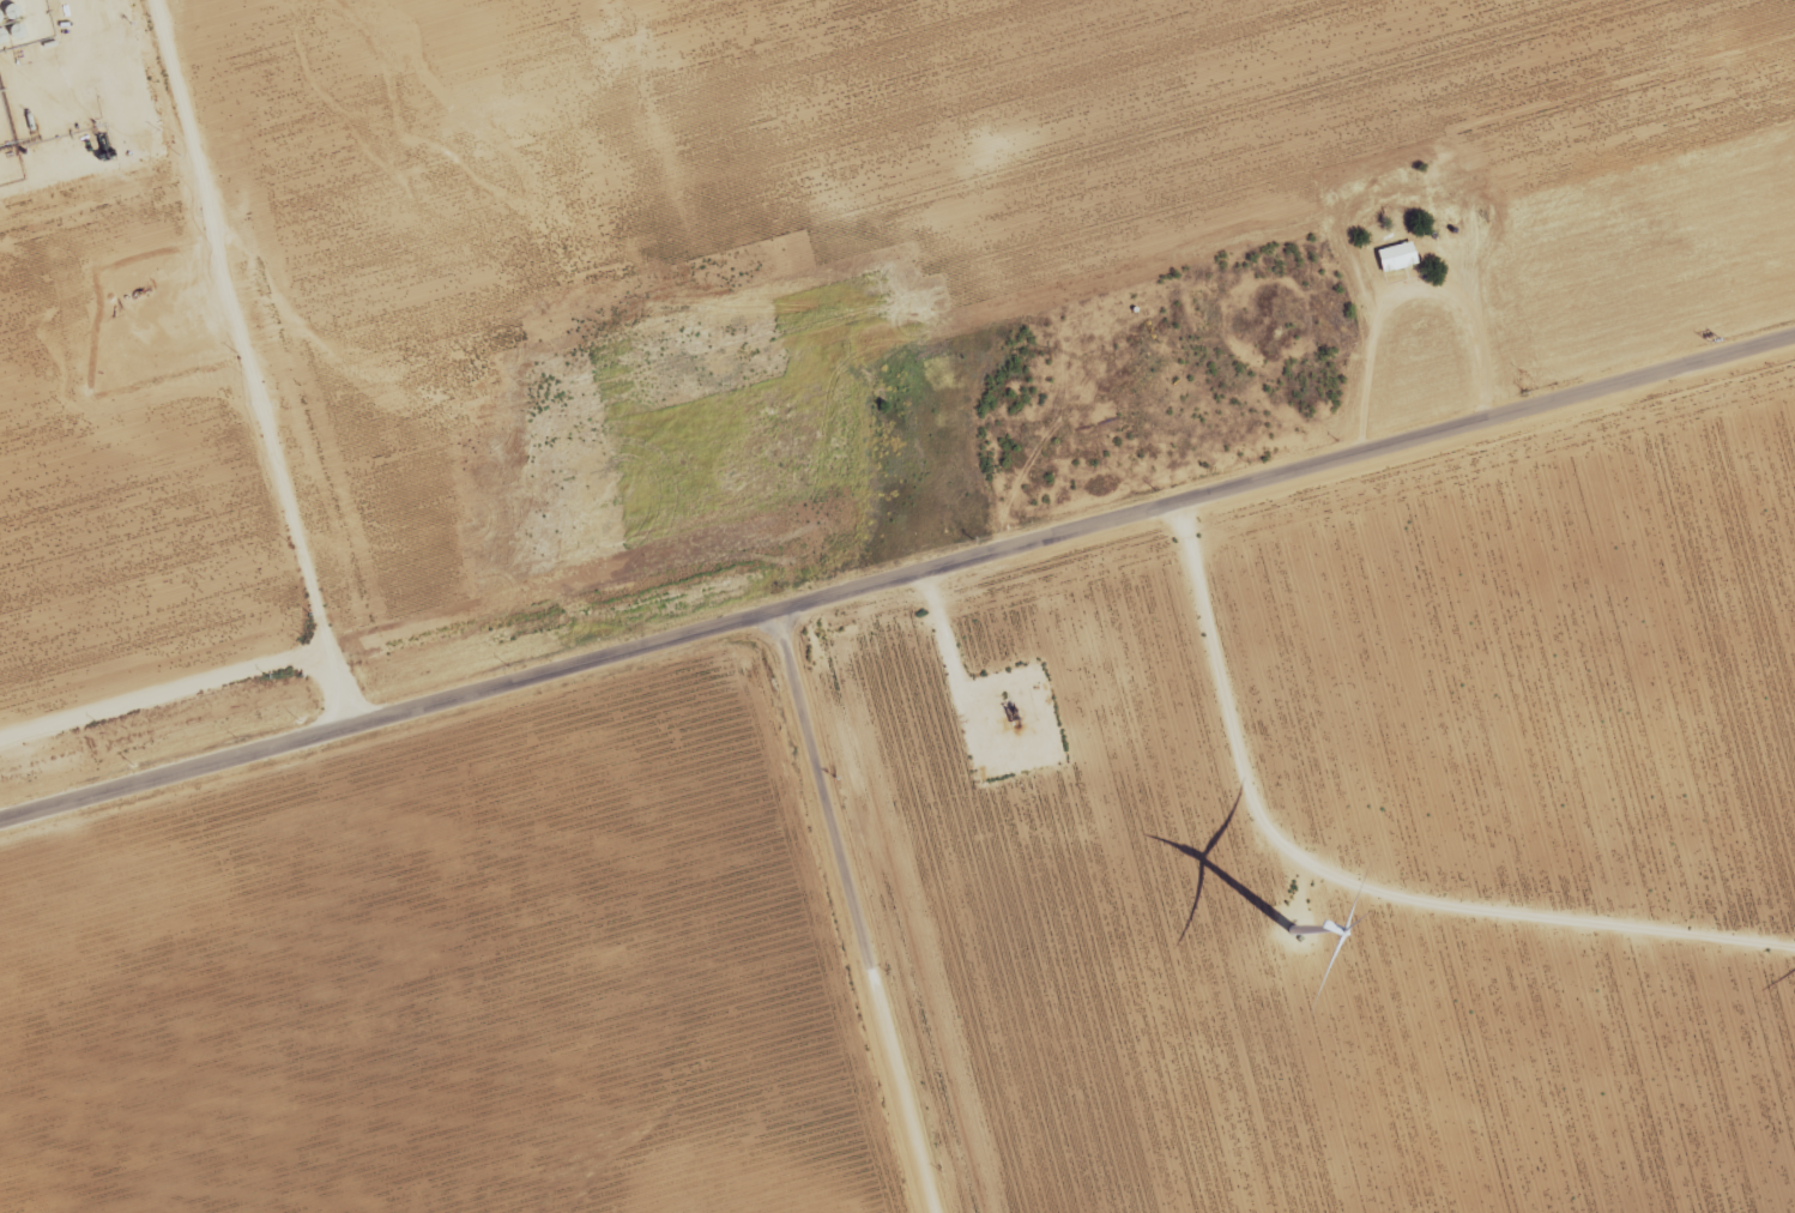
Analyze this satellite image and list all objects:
road: (84, 13)
building: (1396, 257)
road: (237, 330)
road: (897, 586)
road: (194, 684)
road: (850, 915)
wind turbine: (1292, 928)

